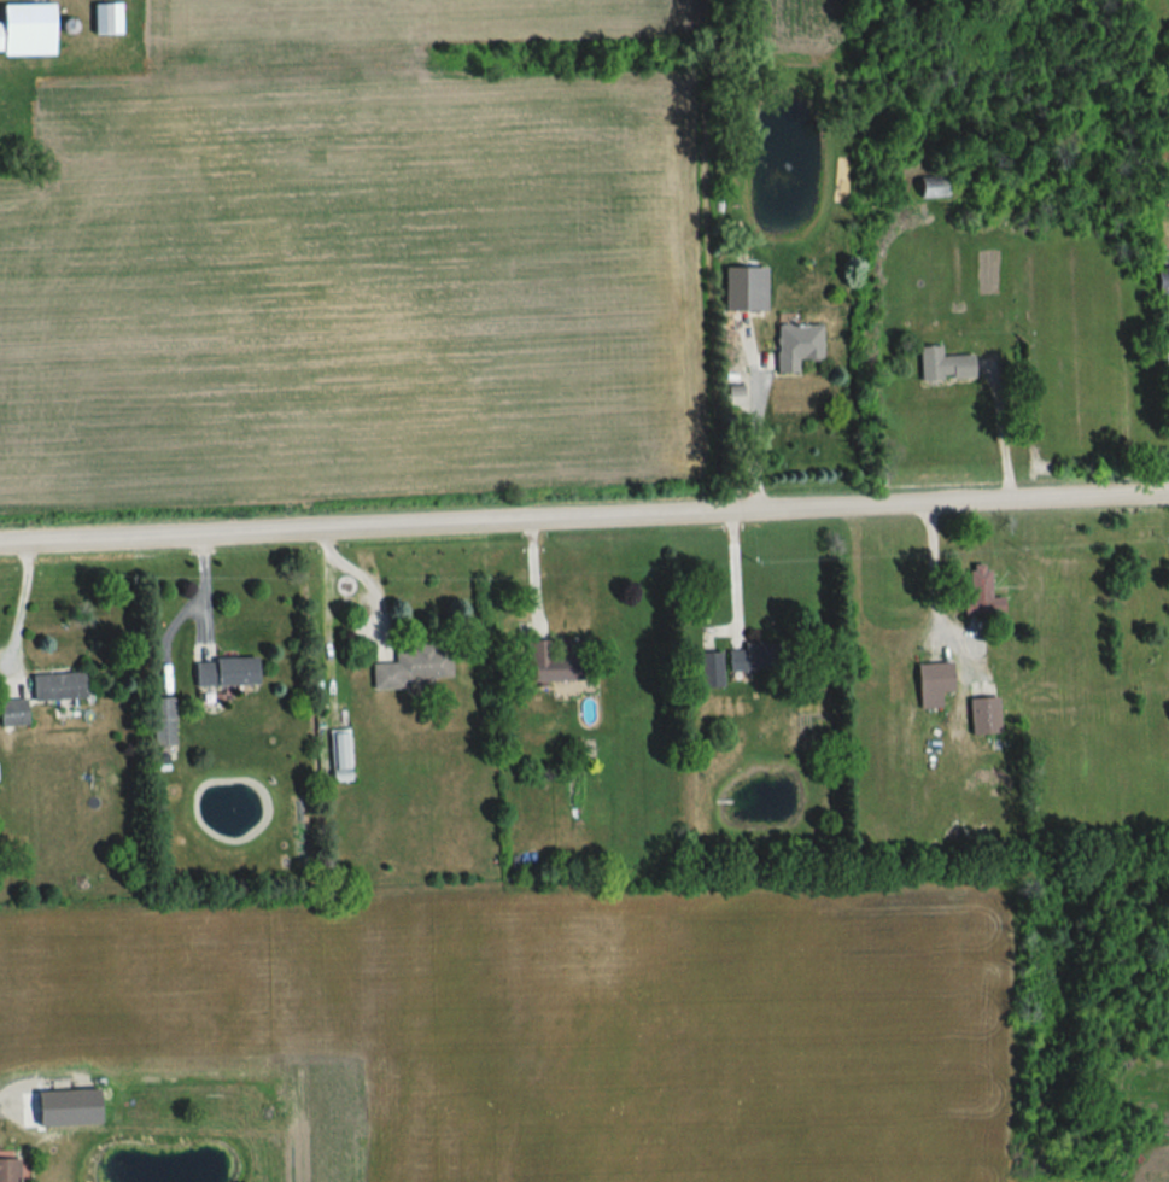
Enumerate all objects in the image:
building: (104, 19)
crop: (408, 19)
crop: (790, 28)
building: (25, 29)
building: (928, 188)
building: (1159, 281)
crop: (353, 282)
building: (794, 343)
building: (940, 365)
road: (999, 421)
road: (755, 437)
road: (584, 513)
road: (731, 564)
road: (934, 569)
road: (362, 578)
building: (978, 592)
road: (21, 608)
building: (746, 659)
building: (415, 665)
building: (550, 666)
building: (708, 668)
building: (223, 669)
building: (930, 683)
building: (54, 685)
building: (12, 710)
building: (981, 715)
building: (160, 720)
building: (339, 754)
crop: (554, 1025)
building: (7, 1168)

